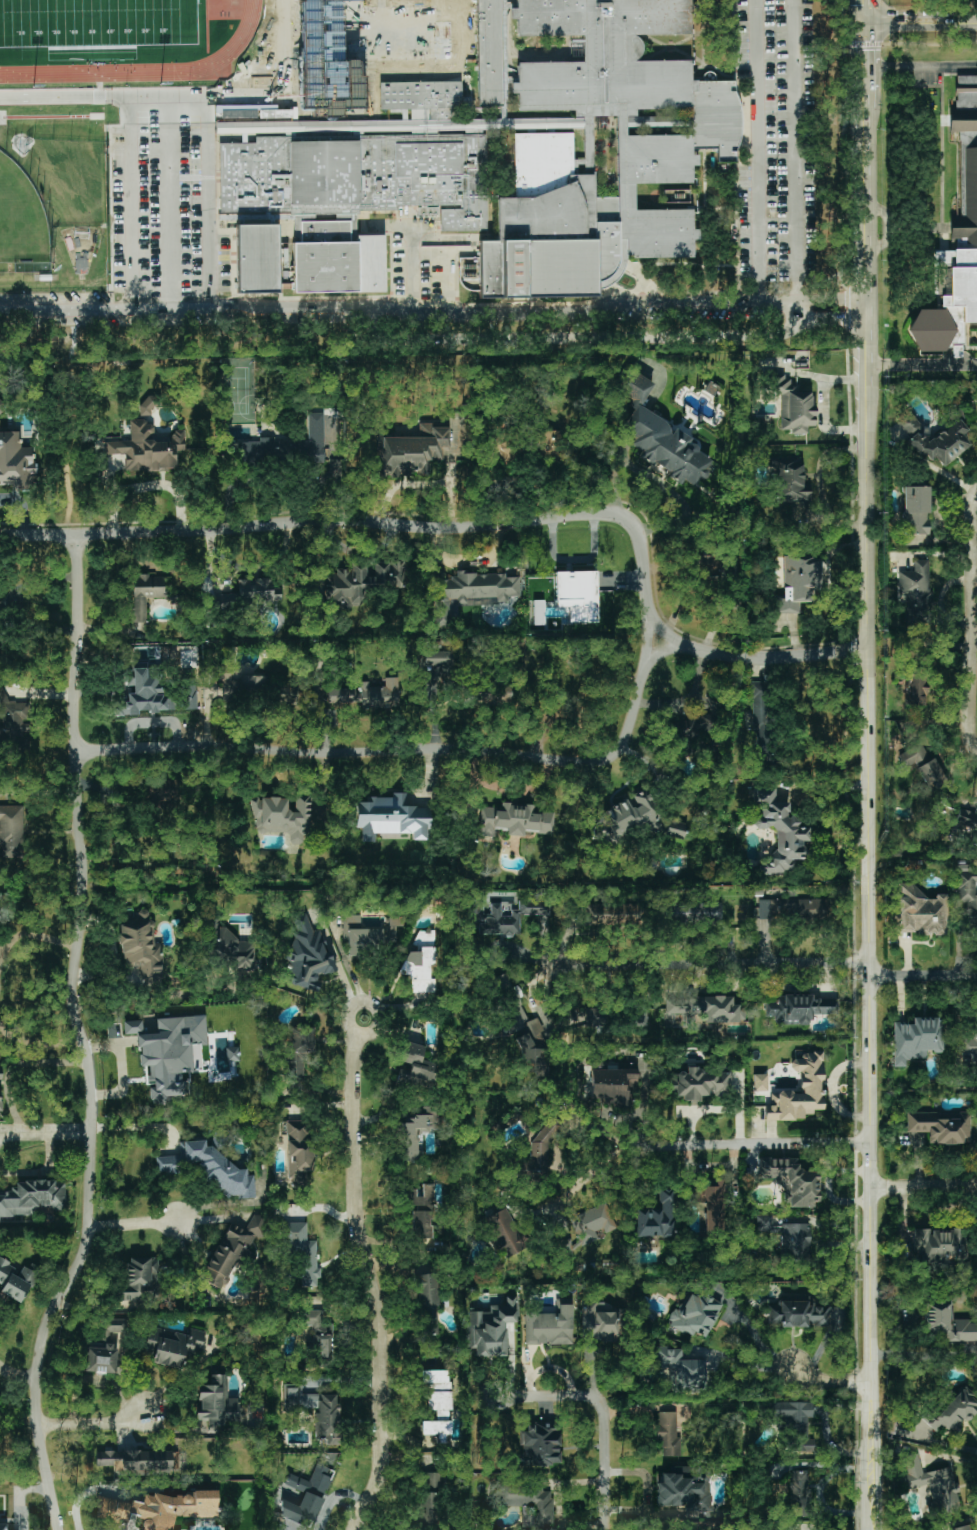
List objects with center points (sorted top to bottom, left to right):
road: (867, 11)
park: (98, 22)
road: (832, 22)
traffic signals: (867, 22)
road: (903, 22)
road: (958, 22)
building: (451, 26)
track: (241, 39)
road: (921, 63)
road: (867, 65)
road: (65, 98)
building: (967, 99)
road: (758, 125)
building: (347, 142)
road: (797, 163)
road: (131, 182)
road: (209, 184)
building: (975, 192)
road: (171, 202)
park: (20, 218)
road: (869, 248)
road: (500, 302)
road: (65, 310)
road: (577, 339)
road: (923, 364)
road: (825, 403)
building: (148, 405)
building: (793, 406)
road: (67, 423)
building: (660, 436)
building: (317, 438)
building: (935, 439)
building: (549, 445)
building: (147, 449)
building: (413, 449)
building: (264, 452)
building: (16, 461)
building: (789, 479)
building: (915, 510)
road: (381, 524)
road: (968, 538)
building: (706, 566)
building: (362, 583)
building: (800, 584)
road: (972, 584)
building: (917, 590)
building: (249, 593)
building: (145, 594)
building: (472, 594)
building: (577, 595)
road: (7, 606)
building: (536, 612)
road: (759, 657)
building: (436, 659)
road: (966, 672)
building: (242, 685)
building: (914, 690)
building: (288, 693)
building: (144, 694)
building: (367, 695)
building: (188, 697)
road: (75, 712)
building: (14, 718)
building: (763, 723)
building: (694, 725)
road: (405, 750)
building: (922, 765)
building: (163, 790)
building: (283, 818)
building: (391, 818)
building: (515, 820)
building: (676, 829)
building: (11, 831)
building: (780, 831)
building: (967, 892)
building: (795, 909)
building: (922, 911)
building: (695, 912)
building: (503, 913)
building: (609, 913)
road: (322, 925)
building: (367, 933)
road: (31, 934)
building: (141, 948)
building: (233, 949)
building: (307, 957)
road: (868, 958)
building: (420, 963)
road: (714, 965)
road: (922, 977)
road: (132, 999)
building: (706, 1009)
building: (799, 1009)
building: (522, 1026)
building: (132, 1027)
building: (917, 1039)
building: (232, 1054)
building: (172, 1055)
building: (415, 1067)
building: (1, 1074)
building: (760, 1082)
building: (612, 1084)
building: (699, 1084)
road: (831, 1089)
building: (799, 1091)
building: (0, 1101)
road: (716, 1110)
building: (941, 1126)
road: (44, 1132)
building: (413, 1134)
road: (700, 1144)
building: (299, 1148)
building: (167, 1164)
building: (216, 1169)
building: (791, 1181)
road: (923, 1187)
building: (421, 1196)
building: (32, 1197)
building: (711, 1205)
road: (88, 1213)
building: (656, 1217)
building: (591, 1224)
road: (132, 1225)
building: (421, 1225)
building: (505, 1233)
building: (788, 1237)
building: (938, 1246)
building: (564, 1247)
building: (230, 1252)
building: (302, 1252)
road: (367, 1276)
building: (139, 1279)
building: (16, 1280)
building: (428, 1304)
building: (798, 1314)
building: (694, 1315)
building: (601, 1322)
building: (947, 1323)
building: (550, 1325)
building: (491, 1328)
building: (319, 1333)
road: (754, 1334)
building: (173, 1345)
building: (105, 1348)
road: (923, 1354)
road: (742, 1361)
building: (680, 1369)
building: (434, 1379)
road: (16, 1380)
road: (828, 1383)
building: (440, 1403)
building: (317, 1410)
building: (954, 1410)
road: (602, 1414)
building: (796, 1423)
road: (90, 1425)
building: (436, 1429)
building: (668, 1433)
building: (540, 1444)
road: (950, 1445)
road: (948, 1458)
building: (137, 1462)
building: (433, 1480)
building: (931, 1484)
road: (648, 1490)
building: (685, 1490)
building: (799, 1493)
building: (307, 1496)
building: (527, 1500)
building: (161, 1508)
building: (426, 1510)
building: (3, 1526)
building: (957, 1526)

